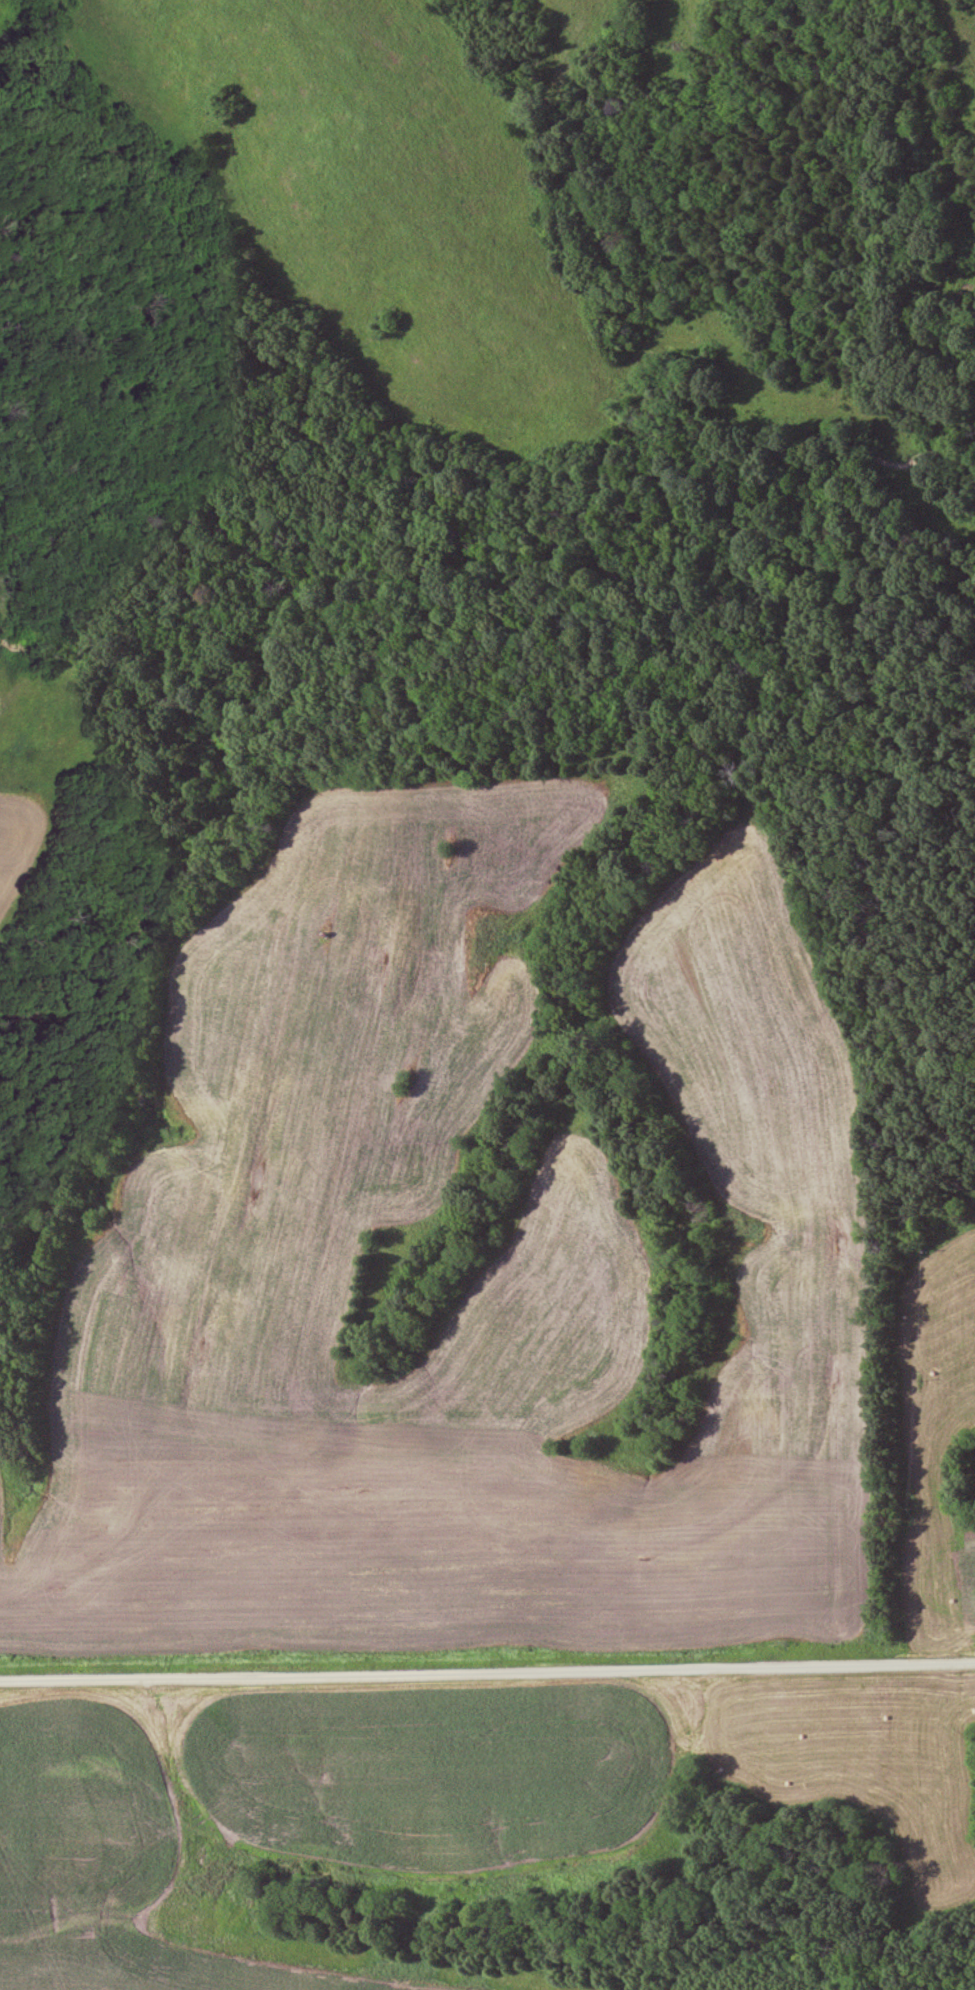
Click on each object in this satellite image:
road: (487, 1678)

